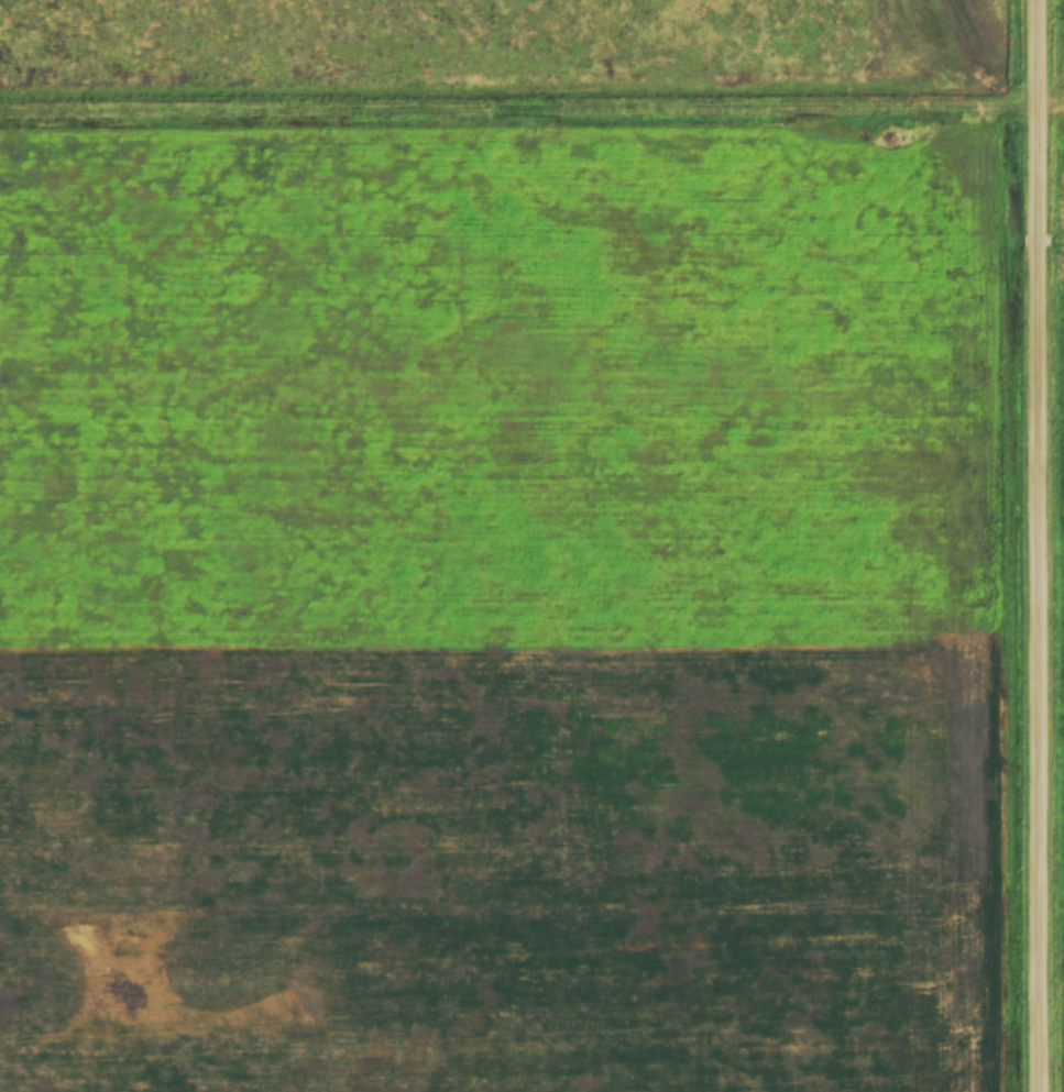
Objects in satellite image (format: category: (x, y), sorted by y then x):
road: (531, 115)
road: (1036, 545)

